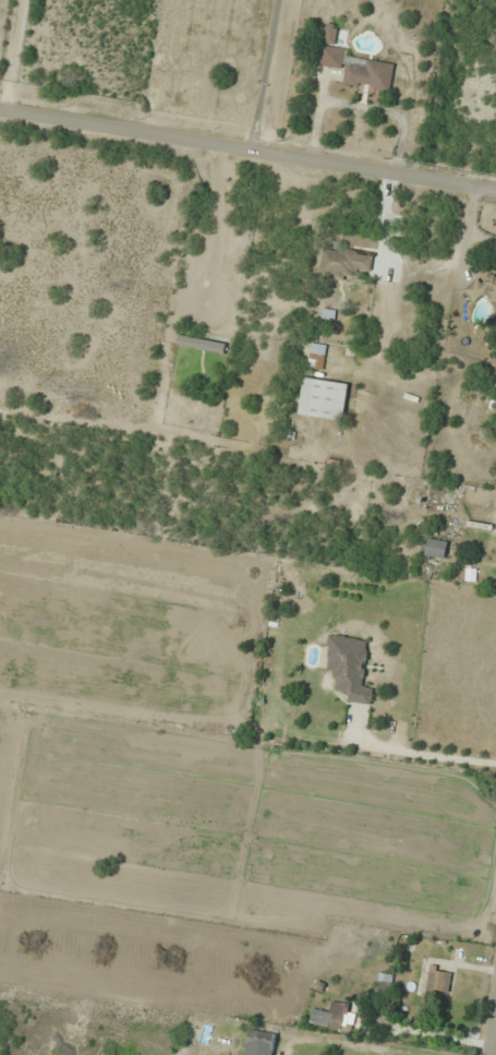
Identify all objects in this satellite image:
building: (356, 64)
road: (247, 151)
building: (347, 262)
building: (482, 290)
building: (317, 355)
building: (324, 398)
building: (436, 547)
building: (350, 667)
building: (439, 979)
building: (328, 1019)
road: (492, 1028)
building: (259, 1041)

